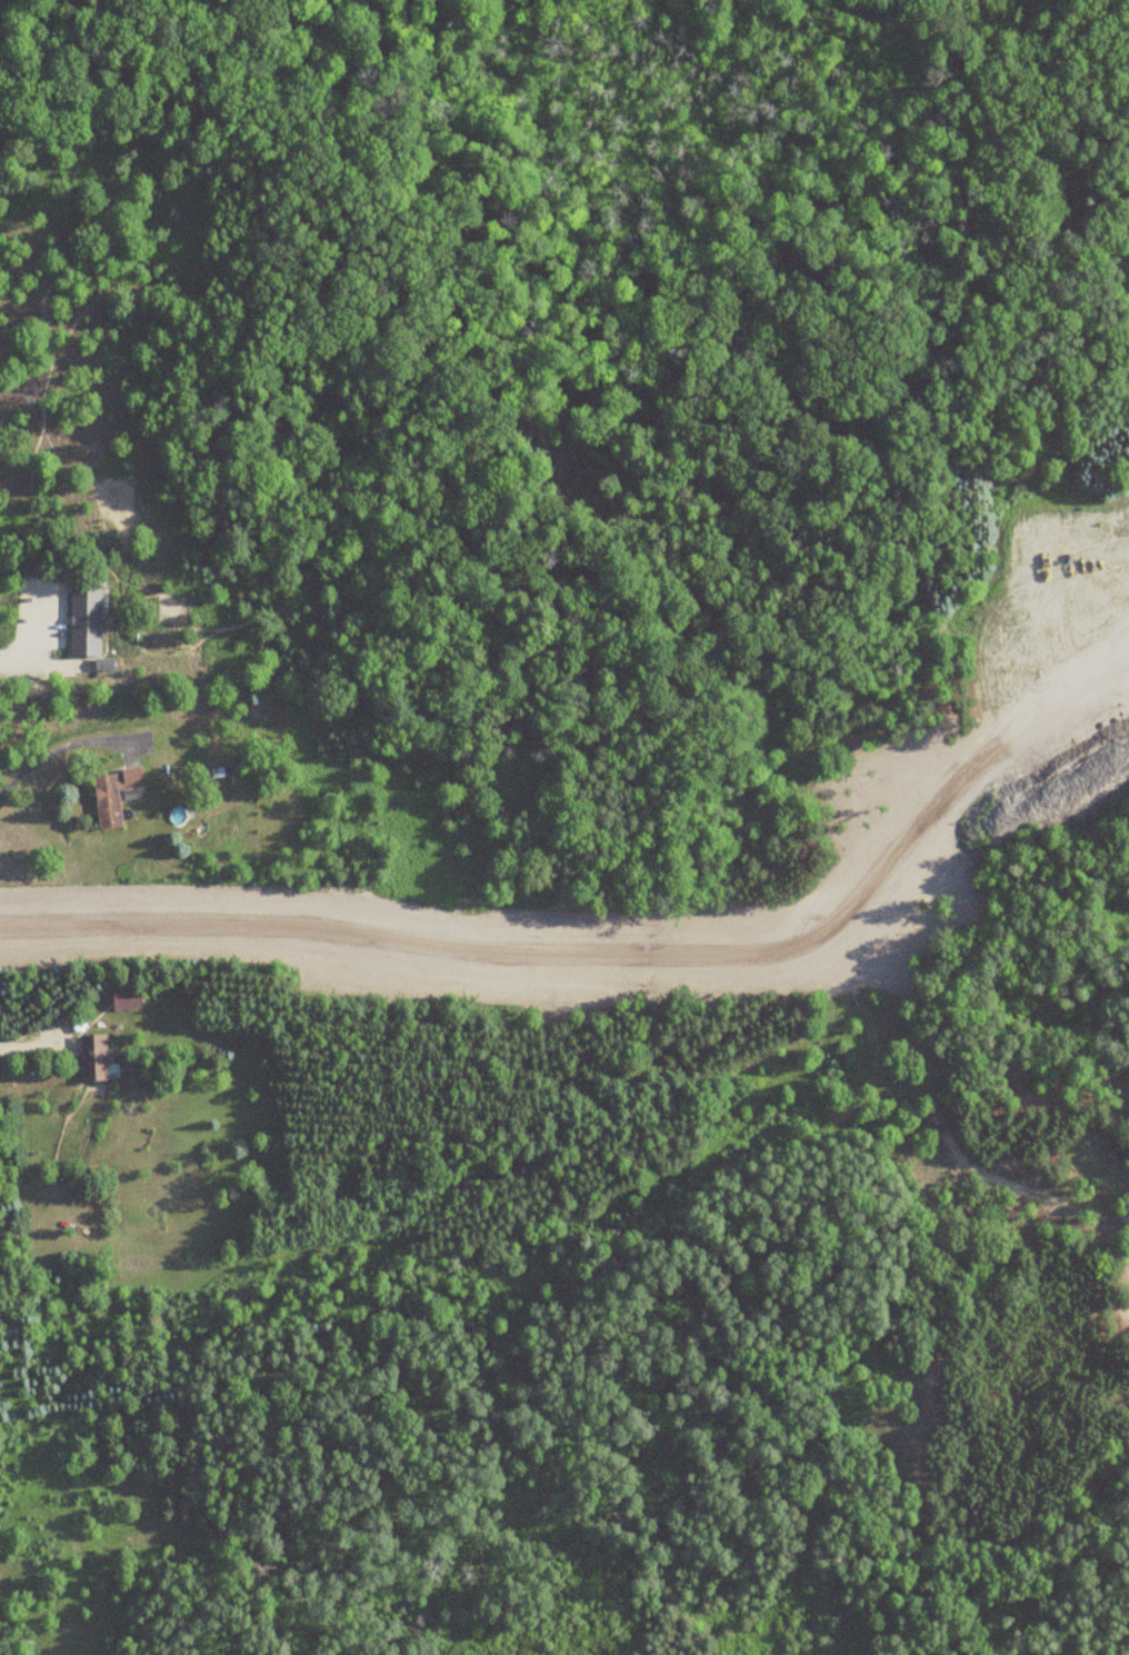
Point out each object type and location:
building: (87, 618)
building: (110, 796)
road: (347, 945)
building: (123, 1000)
building: (90, 1059)

